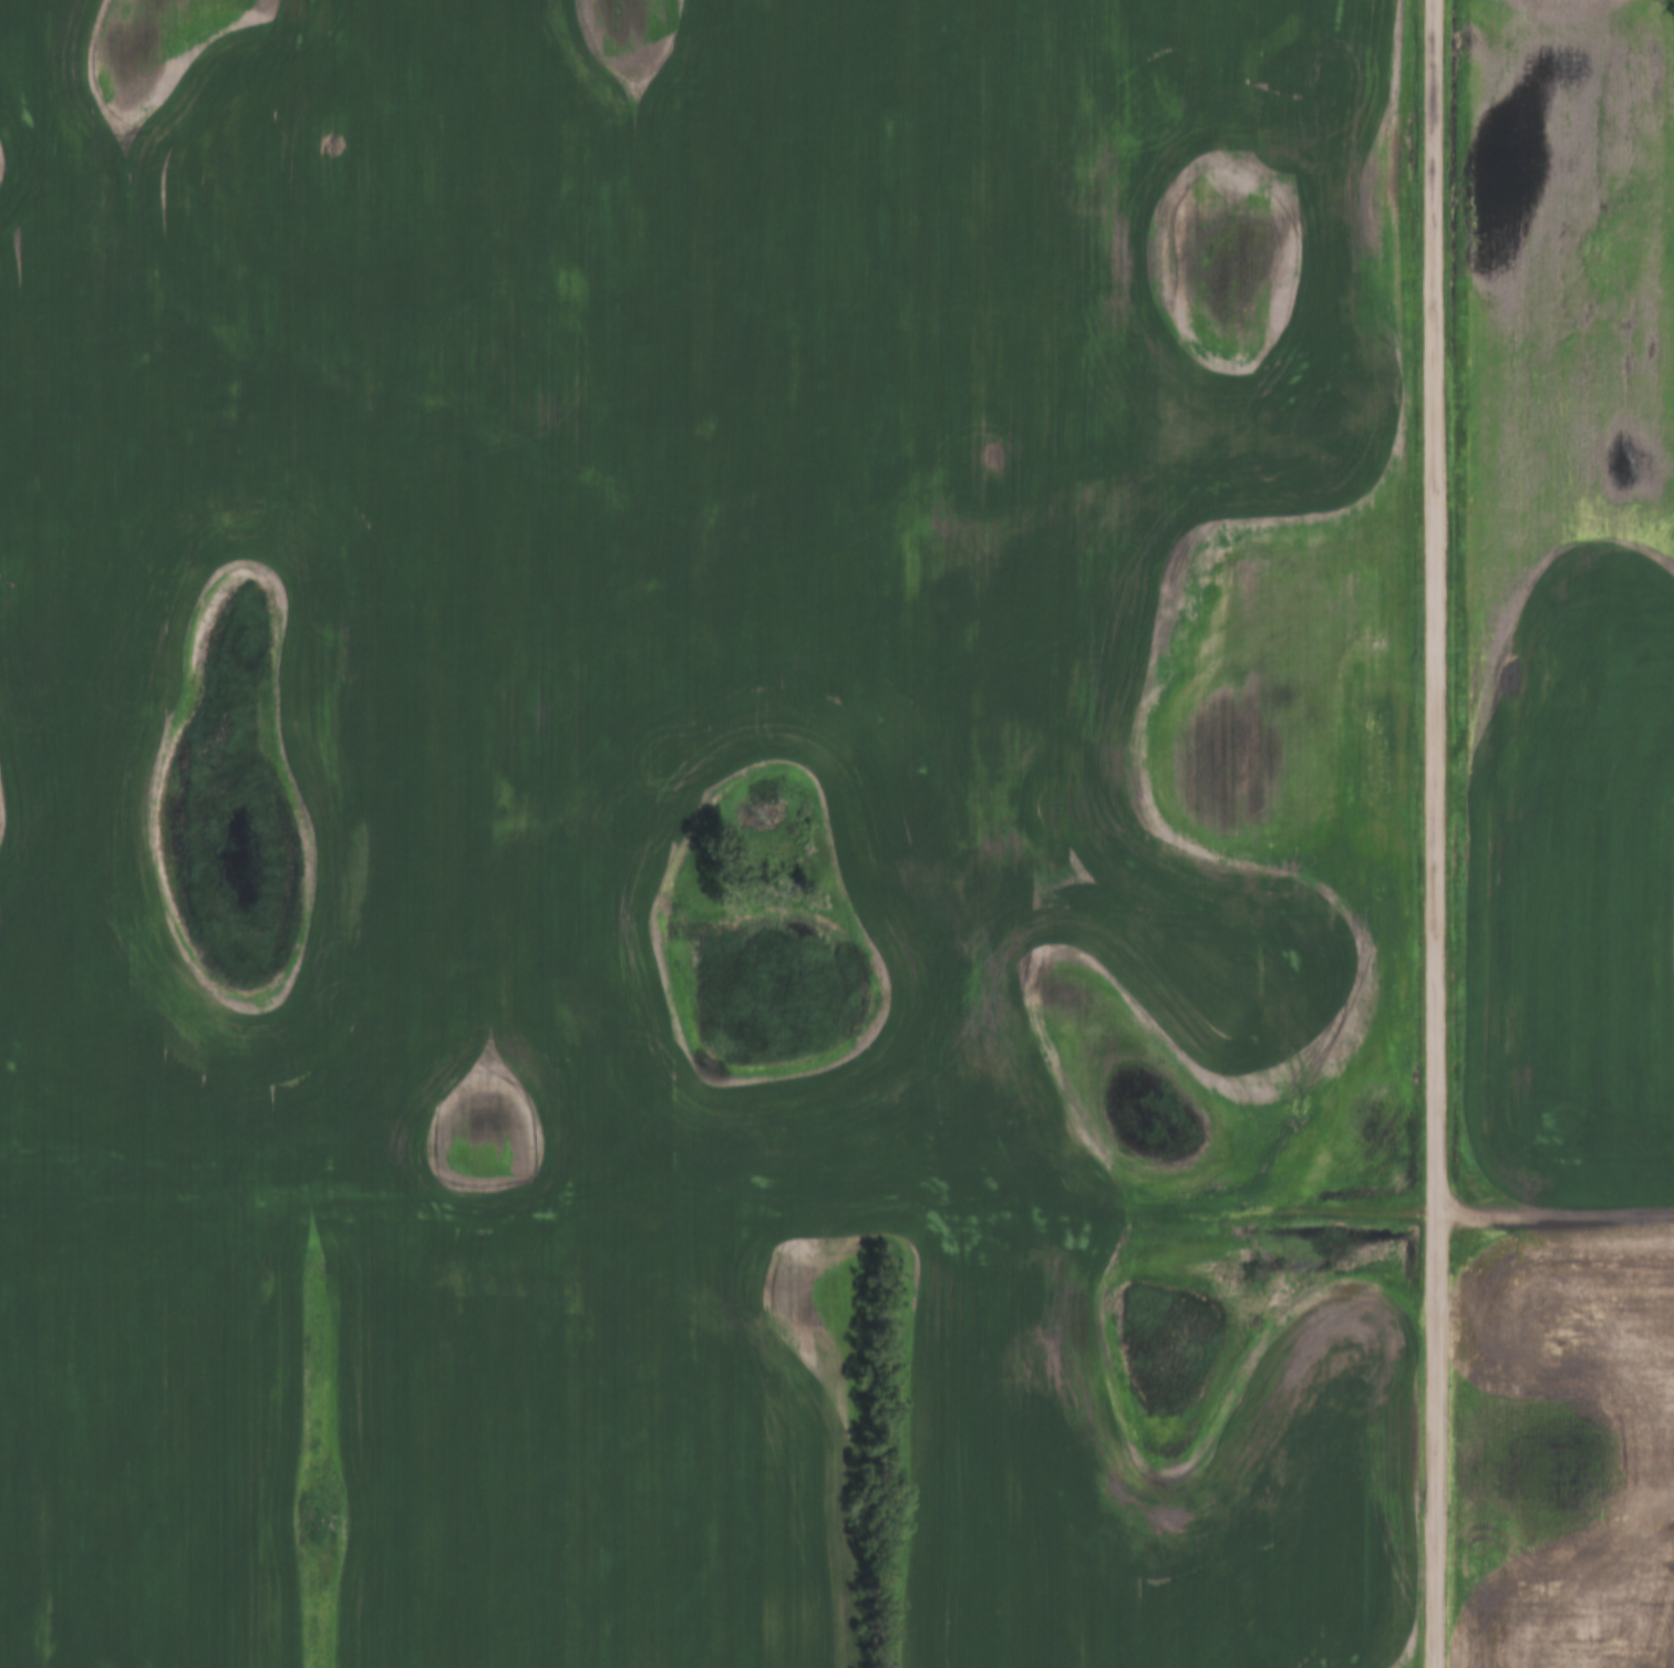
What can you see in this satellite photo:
road: (1435, 833)
road: (837, 1203)

